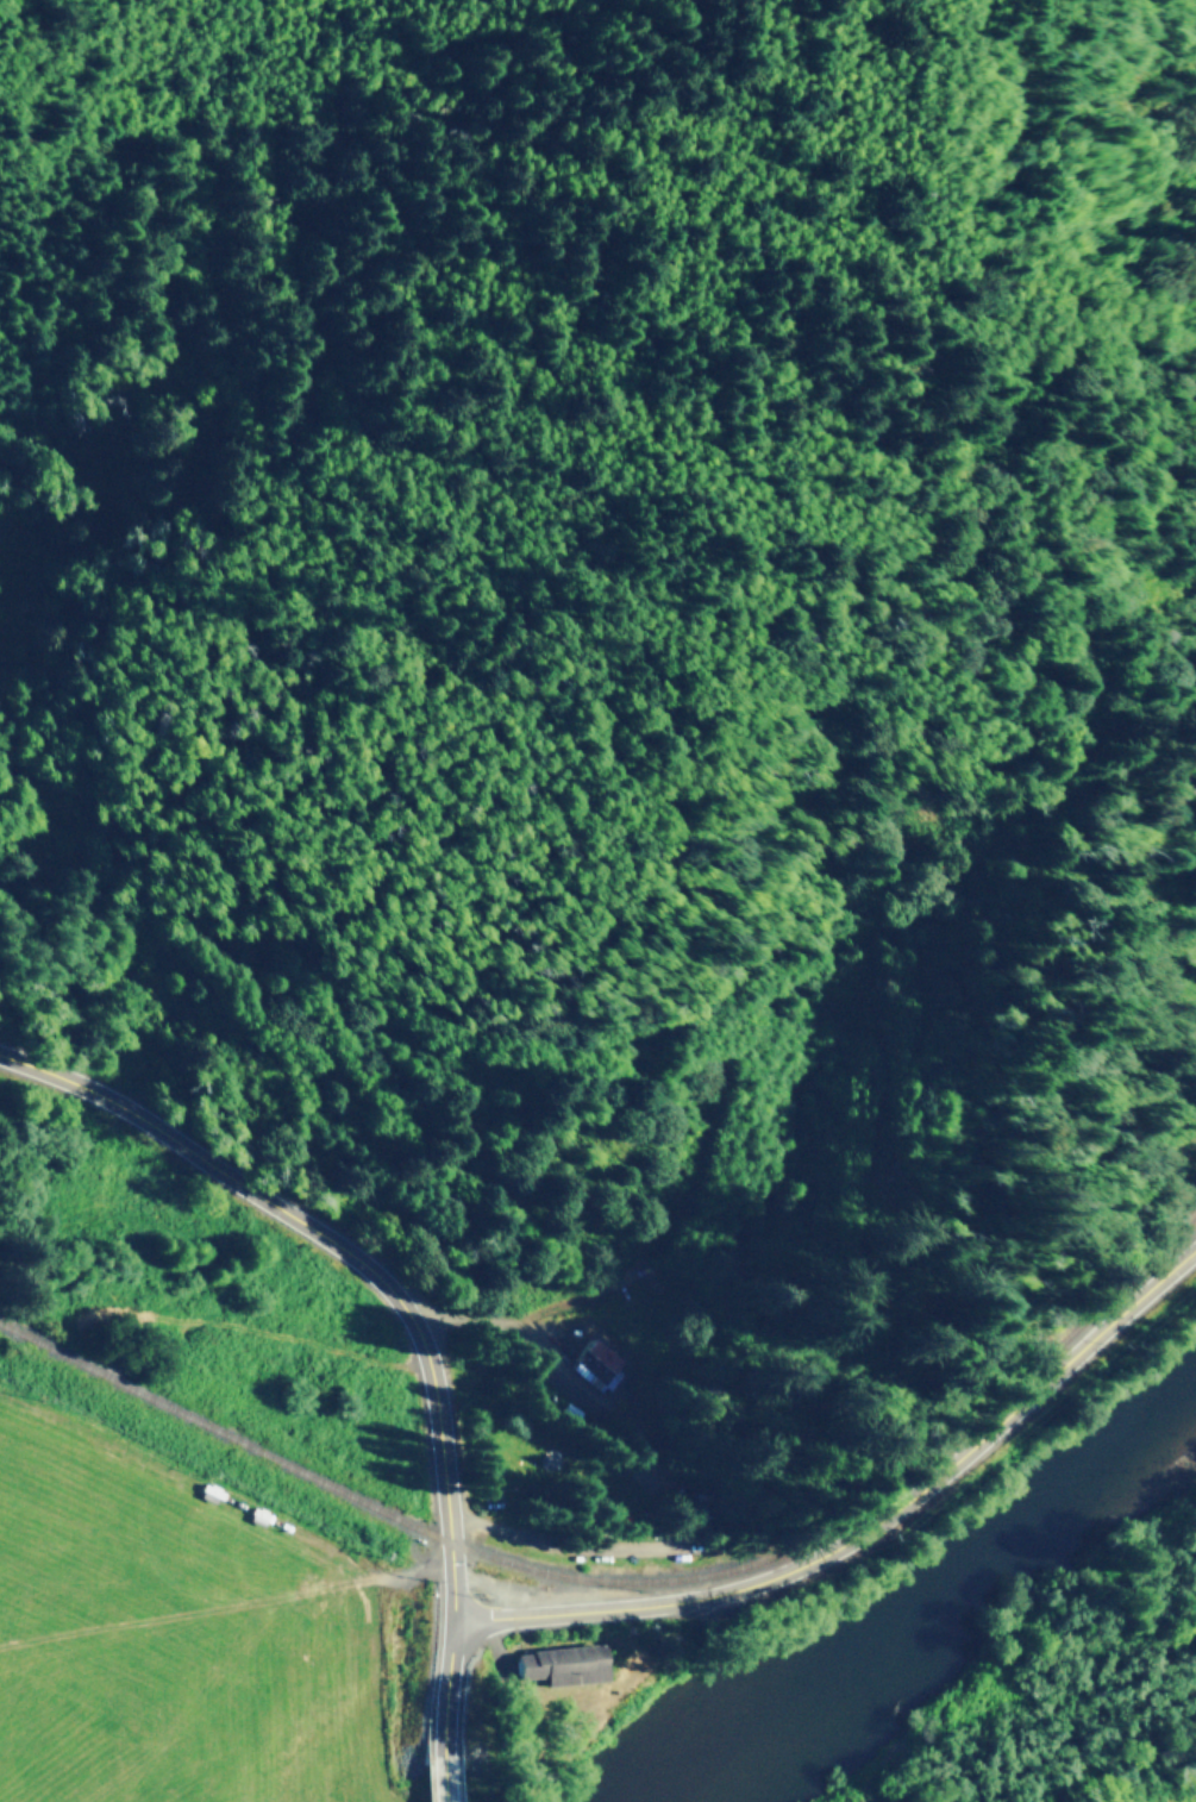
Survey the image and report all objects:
road: (302, 551)
road: (405, 1320)
building: (601, 1352)
road: (871, 1527)
railway: (632, 1581)
river: (927, 1607)
crop: (164, 1644)
building: (557, 1664)

